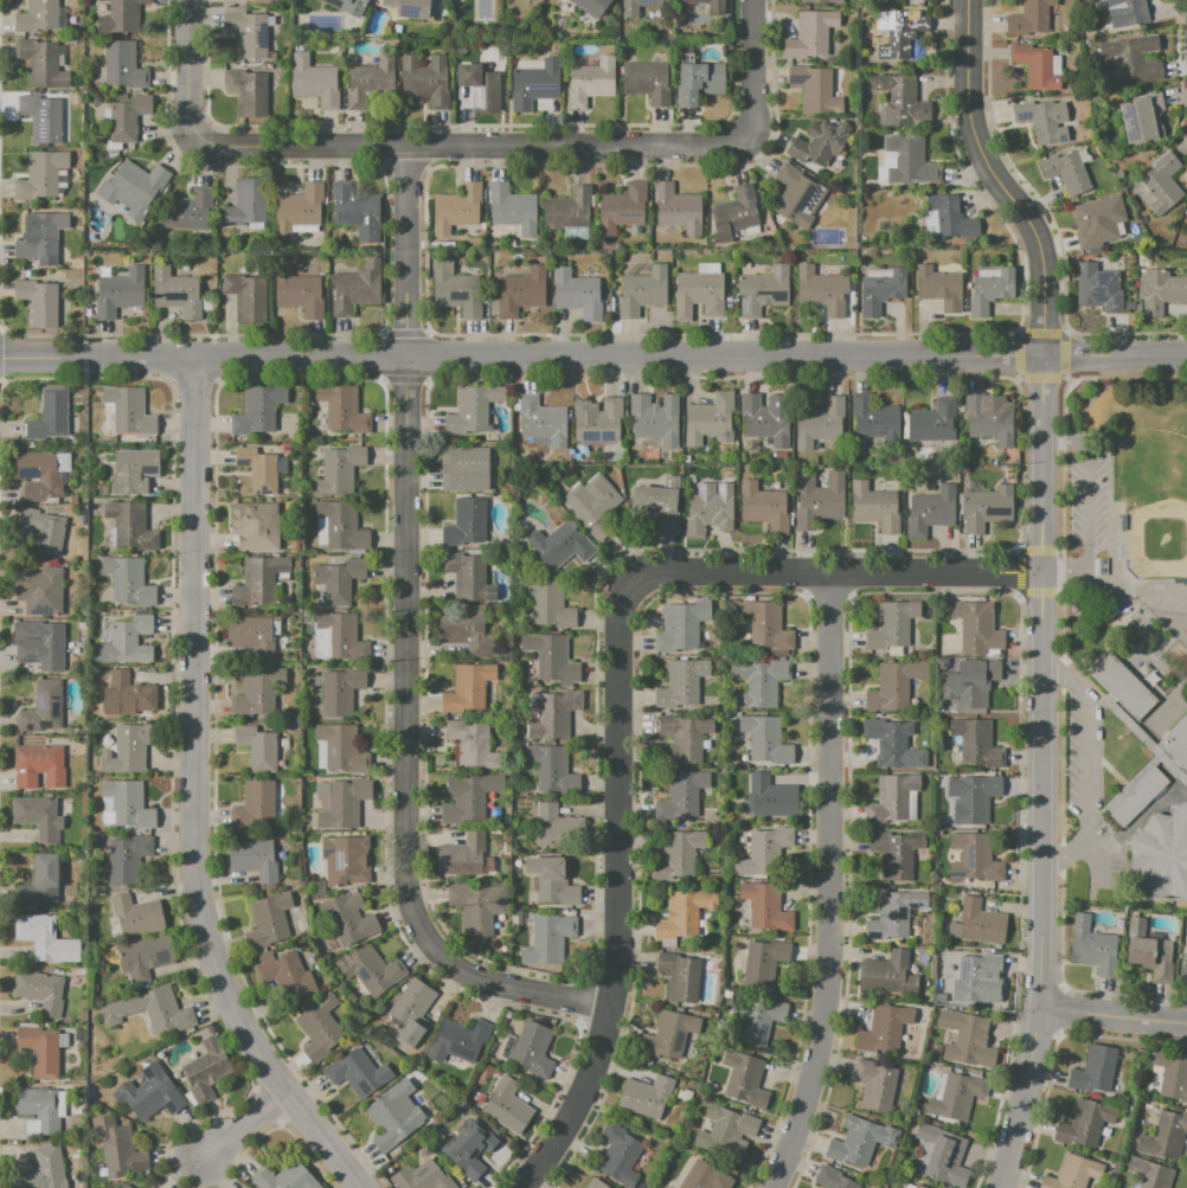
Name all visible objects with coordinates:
building: (444, 0)
building: (237, 1)
building: (819, 1)
building: (347, 6)
building: (593, 6)
building: (639, 7)
building: (409, 8)
building: (717, 9)
building: (1127, 13)
building: (121, 15)
building: (37, 17)
building: (1029, 19)
building: (270, 21)
building: (248, 33)
building: (811, 33)
building: (899, 34)
building: (1131, 58)
building: (40, 64)
building: (124, 66)
building: (1035, 68)
road: (187, 69)
road: (750, 70)
building: (424, 81)
building: (314, 82)
building: (370, 82)
building: (590, 82)
building: (646, 82)
building: (699, 82)
building: (534, 84)
building: (479, 86)
building: (813, 90)
building: (248, 91)
building: (902, 102)
building: (105, 114)
building: (41, 117)
building: (128, 117)
building: (1144, 118)
building: (1041, 121)
building: (822, 143)
road: (471, 147)
building: (911, 161)
building: (1065, 172)
building: (40, 175)
road: (997, 180)
building: (136, 182)
building: (1162, 184)
building: (795, 195)
building: (245, 205)
building: (569, 207)
building: (456, 208)
building: (512, 208)
building: (622, 208)
building: (676, 208)
building: (297, 210)
building: (188, 211)
building: (355, 212)
building: (733, 213)
building: (951, 218)
building: (1097, 221)
building: (304, 227)
building: (41, 237)
building: (707, 268)
building: (937, 287)
building: (355, 288)
building: (455, 289)
building: (641, 289)
building: (763, 289)
building: (1097, 289)
building: (820, 290)
building: (879, 290)
building: (1159, 290)
building: (117, 291)
building: (521, 291)
building: (177, 293)
building: (990, 293)
building: (577, 294)
building: (698, 294)
building: (296, 295)
building: (246, 296)
building: (727, 298)
building: (736, 301)
building: (38, 302)
building: (729, 306)
road: (1018, 332)
road: (1066, 332)
road: (1063, 334)
road: (1020, 355)
road: (593, 357)
road: (1144, 375)
road: (1042, 377)
road: (1016, 379)
road: (1066, 379)
building: (752, 385)
building: (258, 409)
building: (344, 409)
building: (129, 410)
building: (471, 410)
building: (50, 416)
building: (873, 418)
building: (989, 418)
building: (655, 419)
building: (708, 419)
building: (766, 419)
building: (541, 420)
building: (597, 420)
building: (931, 422)
building: (819, 423)
building: (339, 469)
building: (462, 469)
building: (964, 469)
building: (133, 470)
building: (258, 470)
building: (40, 474)
park: (1124, 484)
road: (1109, 490)
building: (817, 500)
building: (659, 503)
park: (1155, 503)
building: (591, 505)
building: (762, 506)
building: (874, 507)
building: (984, 507)
parking lot: (1085, 507)
road: (1086, 508)
building: (708, 509)
building: (930, 512)
building: (466, 522)
building: (342, 525)
building: (130, 526)
building: (255, 526)
building: (43, 529)
building: (563, 546)
road: (1016, 547)
road: (1059, 548)
road: (1038, 550)
building: (1102, 566)
road: (1019, 572)
building: (468, 578)
building: (128, 580)
building: (257, 580)
building: (339, 580)
road: (1125, 589)
building: (40, 591)
road: (1058, 592)
road: (1037, 593)
road: (1016, 597)
building: (548, 602)
building: (892, 624)
building: (765, 627)
building: (976, 627)
building: (681, 630)
building: (467, 634)
building: (251, 635)
building: (341, 636)
building: (126, 642)
road: (404, 646)
building: (44, 649)
building: (551, 659)
building: (757, 682)
building: (681, 683)
building: (969, 683)
building: (893, 685)
building: (1122, 686)
building: (468, 689)
road: (615, 689)
building: (340, 691)
building: (256, 693)
building: (129, 694)
building: (43, 708)
building: (552, 714)
road: (1124, 719)
road: (1063, 727)
building: (685, 737)
flagpole: (1117, 737)
building: (765, 740)
building: (1146, 741)
building: (976, 743)
building: (892, 744)
building: (1176, 744)
building: (255, 745)
building: (471, 746)
building: (128, 749)
building: (341, 750)
building: (37, 765)
road: (1086, 766)
building: (551, 769)
road: (1040, 775)
parking lot: (1090, 794)
road: (193, 795)
building: (1134, 795)
building: (681, 796)
building: (772, 796)
building: (468, 797)
building: (974, 797)
building: (890, 798)
building: (341, 803)
building: (127, 804)
building: (254, 805)
road: (1149, 809)
building: (38, 816)
building: (559, 827)
building: (896, 853)
building: (1161, 853)
building: (763, 854)
building: (675, 855)
building: (464, 858)
building: (974, 859)
building: (126, 860)
building: (254, 861)
building: (342, 862)
road: (1098, 862)
building: (551, 881)
building: (39, 884)
road: (828, 884)
road: (1156, 903)
building: (765, 906)
building: (477, 907)
building: (684, 913)
building: (893, 914)
building: (135, 916)
building: (349, 919)
building: (268, 921)
building: (977, 923)
building: (44, 938)
building: (546, 940)
building: (1092, 946)
building: (1148, 952)
building: (143, 958)
building: (763, 963)
building: (1183, 968)
building: (370, 971)
building: (886, 972)
building: (973, 975)
building: (680, 977)
building: (294, 980)
building: (40, 991)
road: (1060, 1008)
building: (413, 1009)
building: (149, 1012)
road: (1114, 1016)
building: (757, 1017)
building: (319, 1028)
building: (884, 1028)
building: (669, 1034)
building: (970, 1040)
building: (458, 1041)
building: (410, 1049)
building: (39, 1051)
building: (531, 1051)
building: (206, 1068)
building: (1093, 1072)
building: (357, 1073)
building: (1172, 1075)
building: (744, 1078)
building: (875, 1084)
building: (644, 1096)
building: (957, 1096)
building: (149, 1098)
building: (507, 1106)
building: (38, 1107)
building: (393, 1115)
building: (1085, 1123)
road: (244, 1125)
building: (726, 1132)
building: (1163, 1137)
building: (858, 1141)
building: (117, 1148)
building: (469, 1149)
building: (620, 1155)
building: (947, 1160)
building: (44, 1168)
building: (1073, 1171)
building: (1150, 1173)
building: (422, 1176)
building: (700, 1176)
building: (285, 1177)
building: (832, 1179)
building: (596, 1184)
building: (123, 1186)
building: (918, 1186)
building: (243, 1187)

